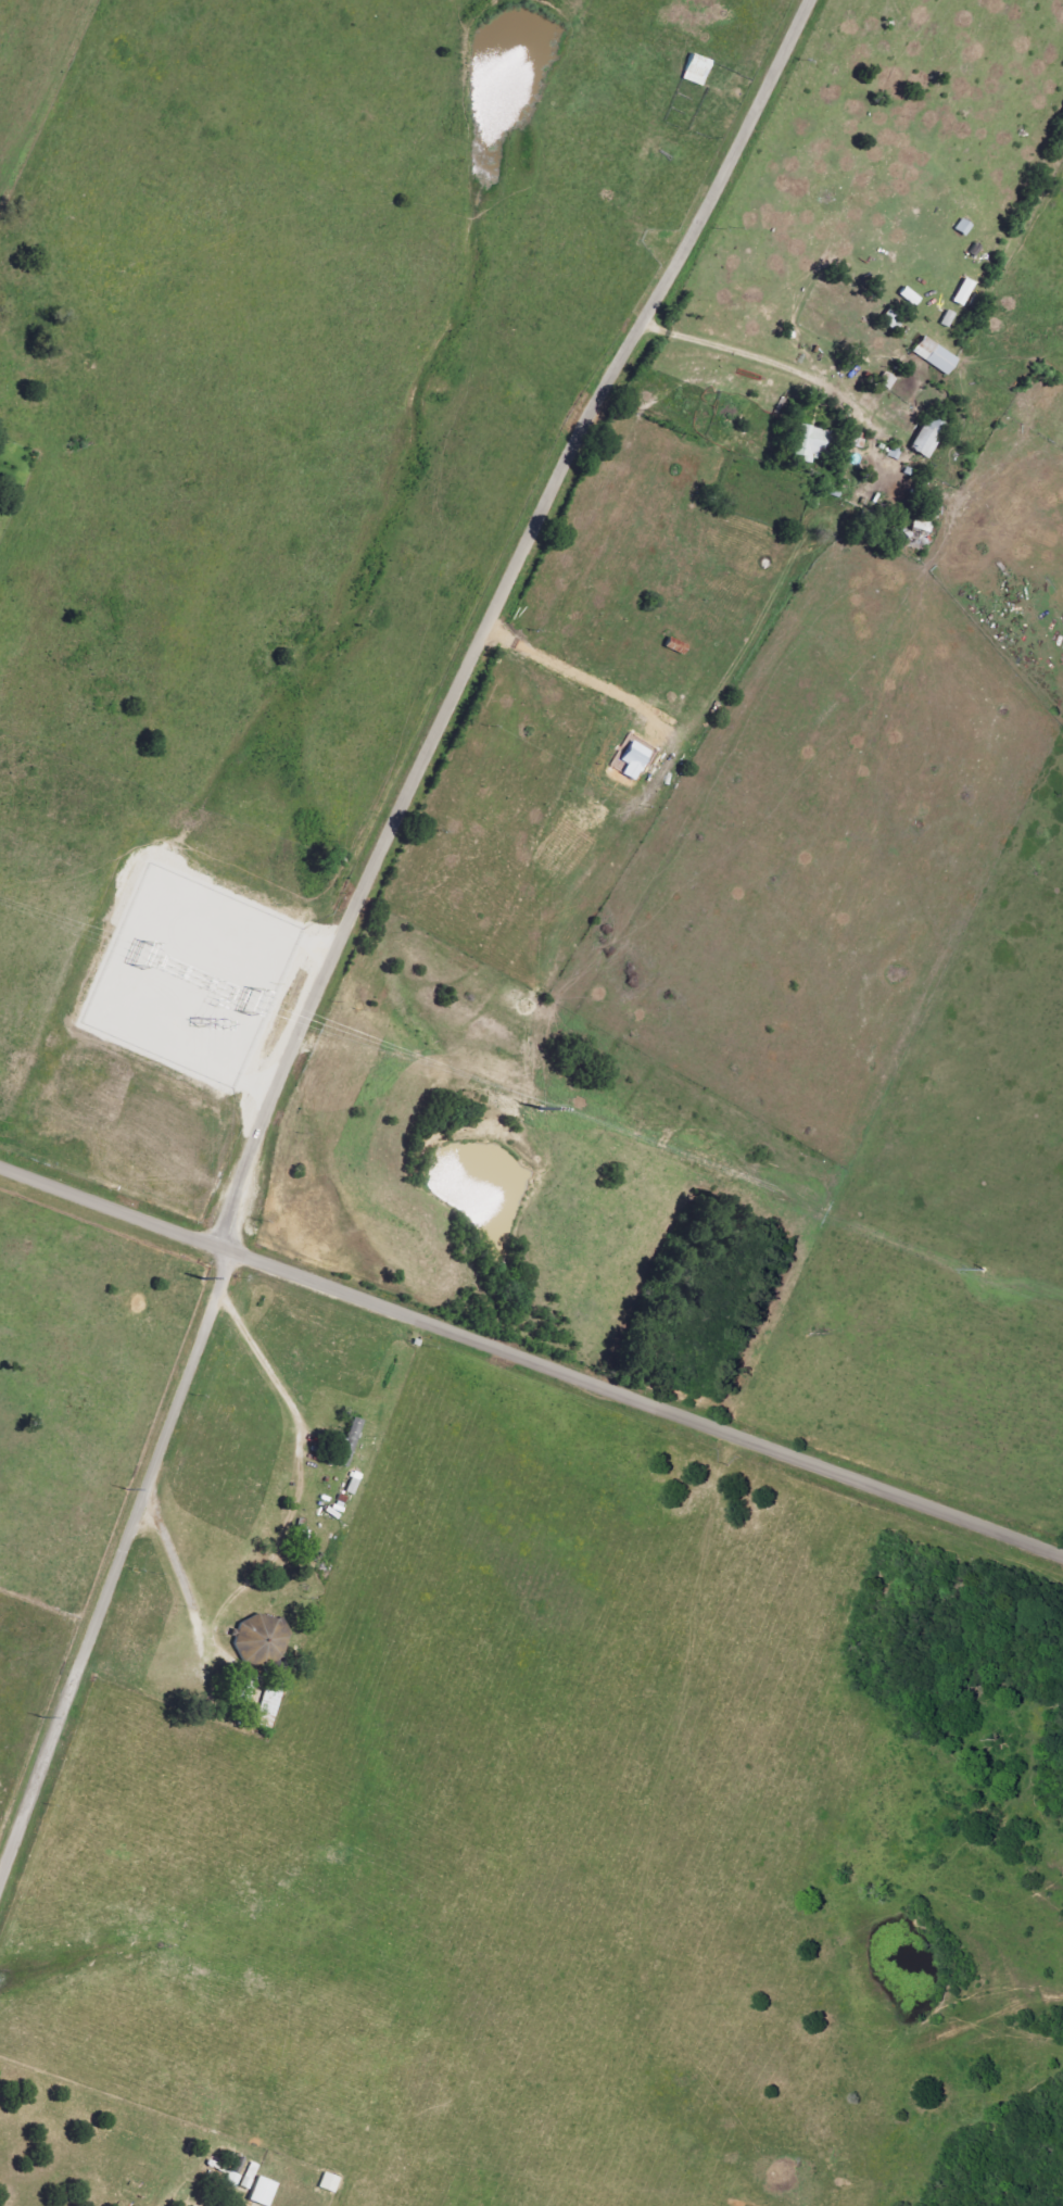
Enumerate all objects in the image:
building: (965, 228)
building: (965, 293)
building: (912, 298)
building: (950, 319)
building: (937, 356)
road: (742, 360)
building: (931, 437)
building: (812, 444)
building: (924, 526)
building: (637, 760)
road: (350, 921)
power substation: (192, 976)
road: (532, 1362)
building: (355, 1436)
road: (169, 1576)
building: (264, 1641)
building: (273, 1703)
building: (233, 2180)
building: (331, 2183)
building: (265, 2193)

